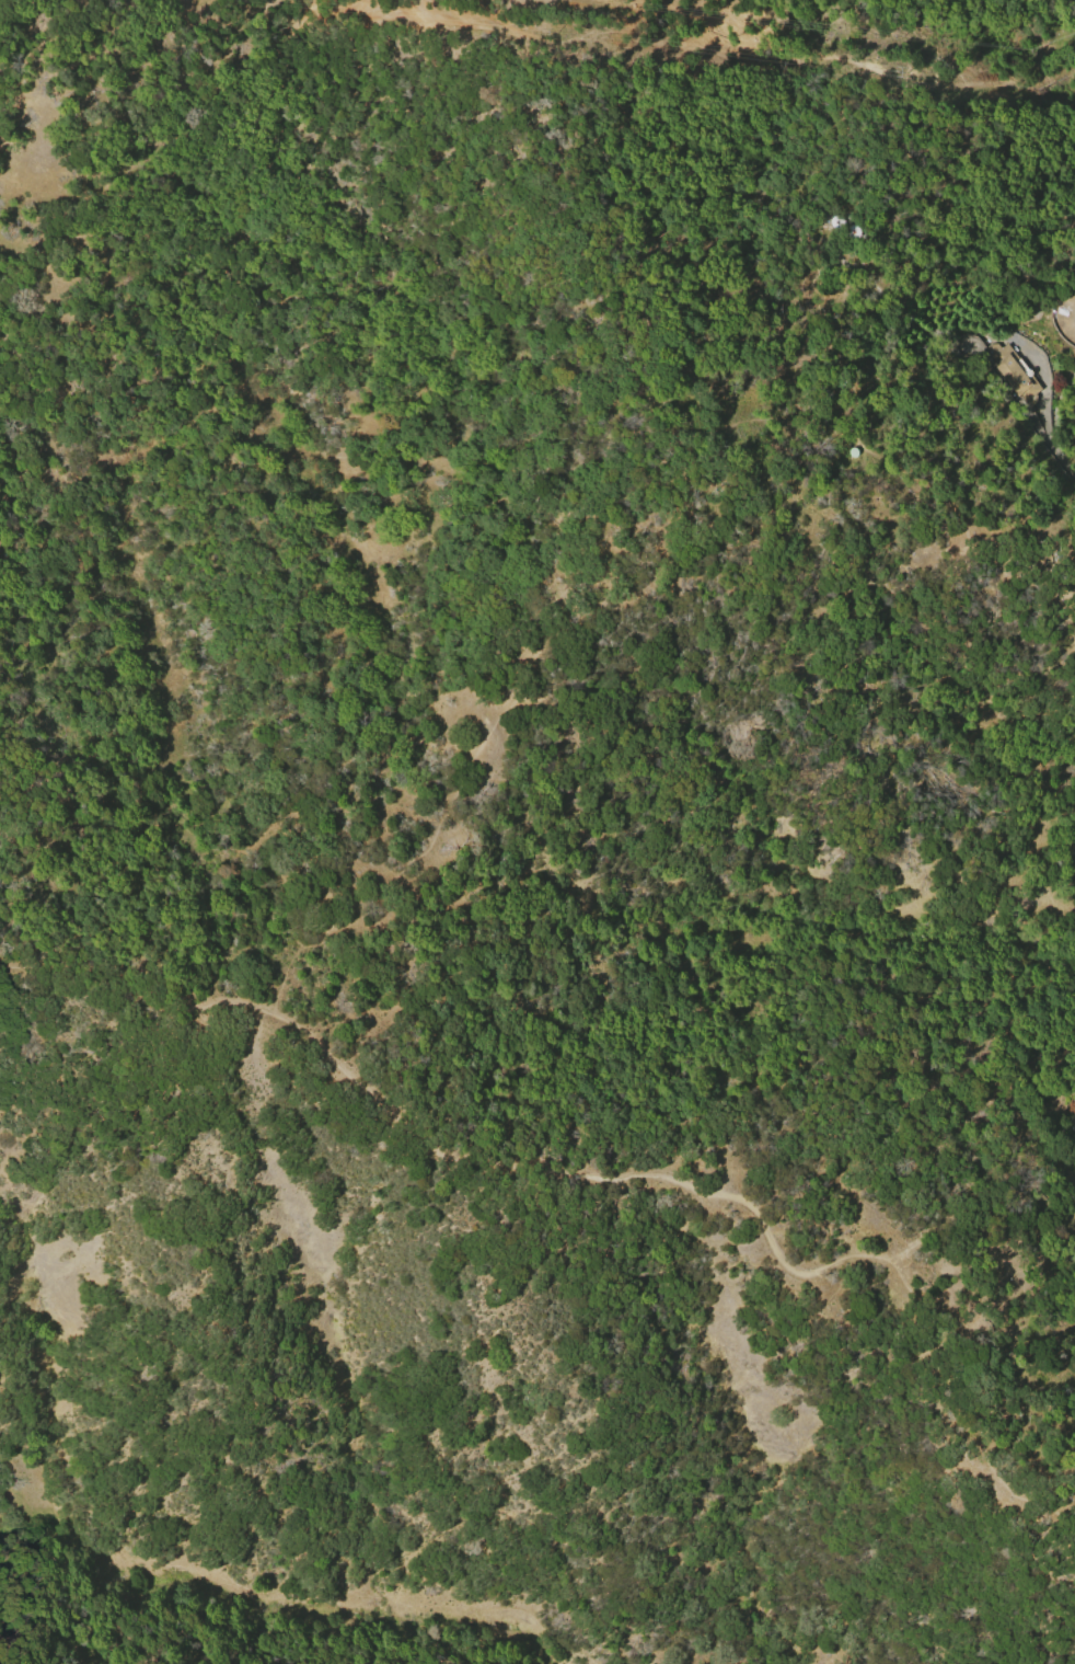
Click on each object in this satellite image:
building: (1013, 372)
road: (603, 1168)

